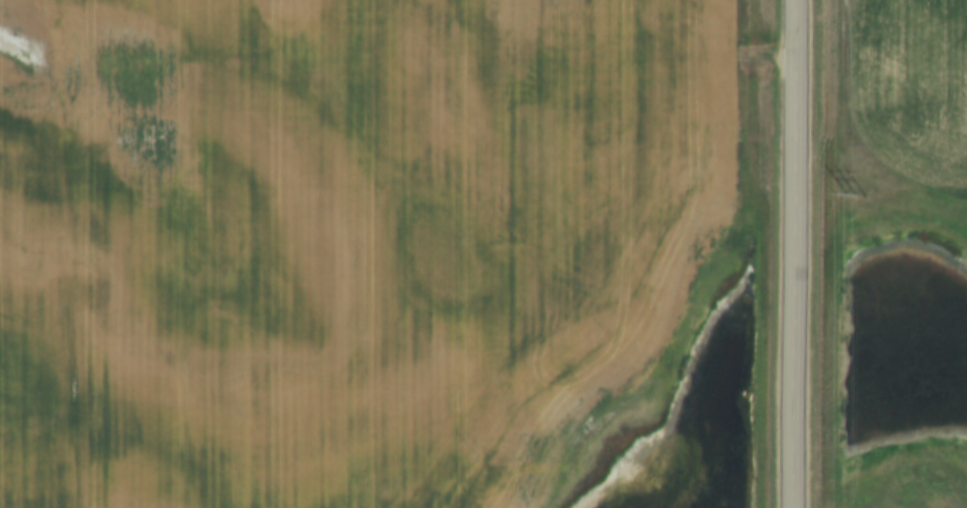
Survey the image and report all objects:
road: (67, 254)
road: (793, 254)

